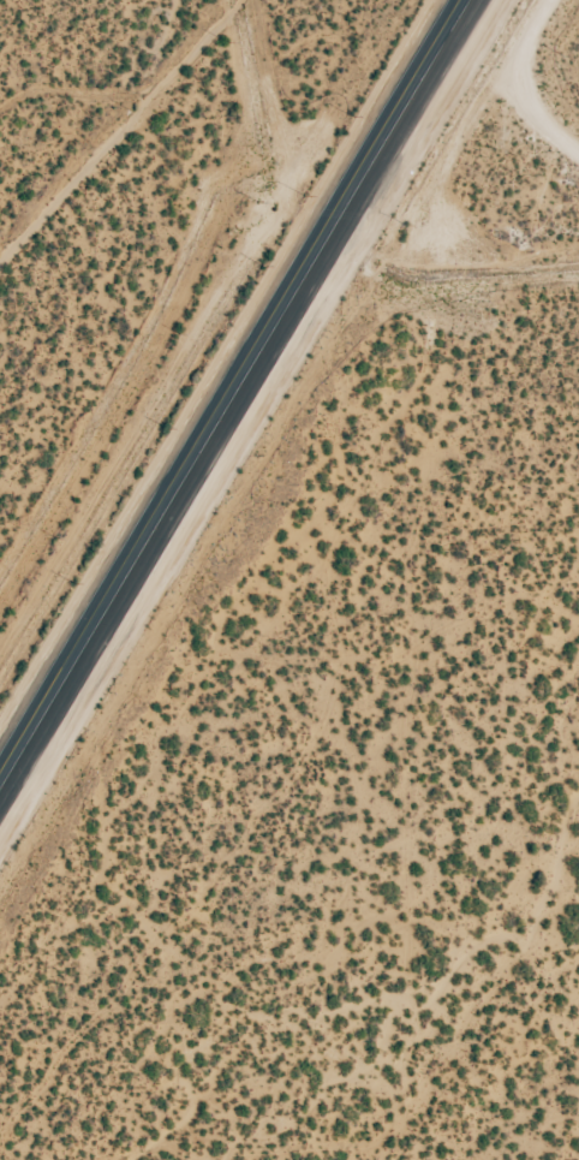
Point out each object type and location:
road: (500, 82)
road: (234, 393)

